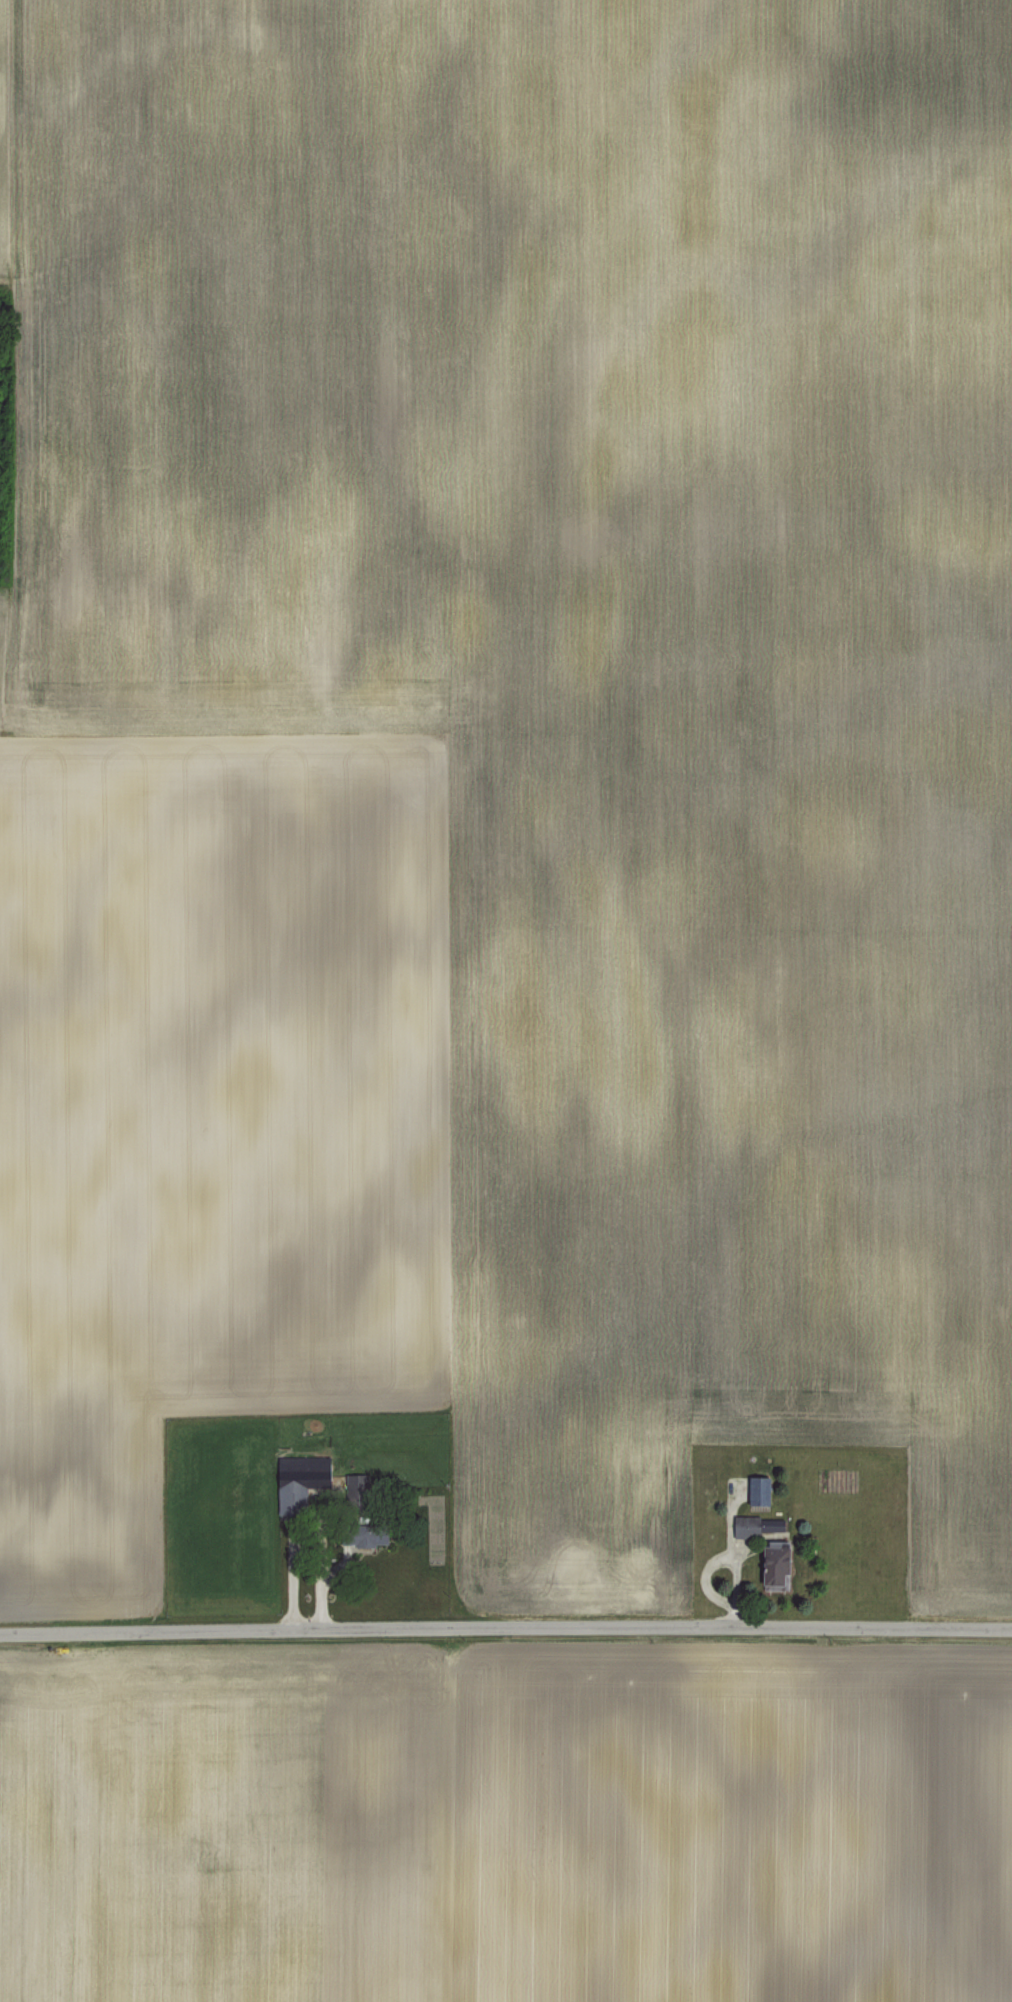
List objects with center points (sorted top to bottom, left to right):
building: (364, 1538)
building: (767, 1552)
road: (335, 1567)
road: (505, 1626)

